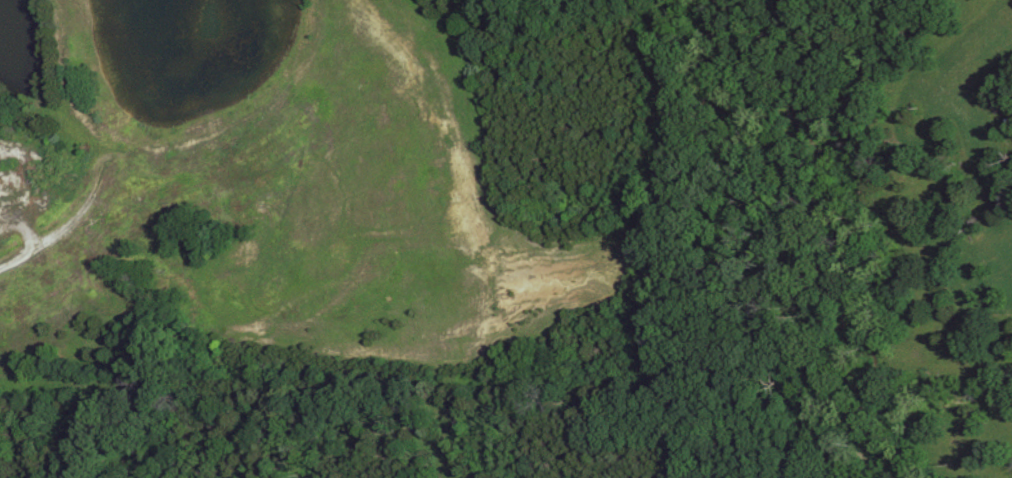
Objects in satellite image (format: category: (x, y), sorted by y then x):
road: (12, 263)

